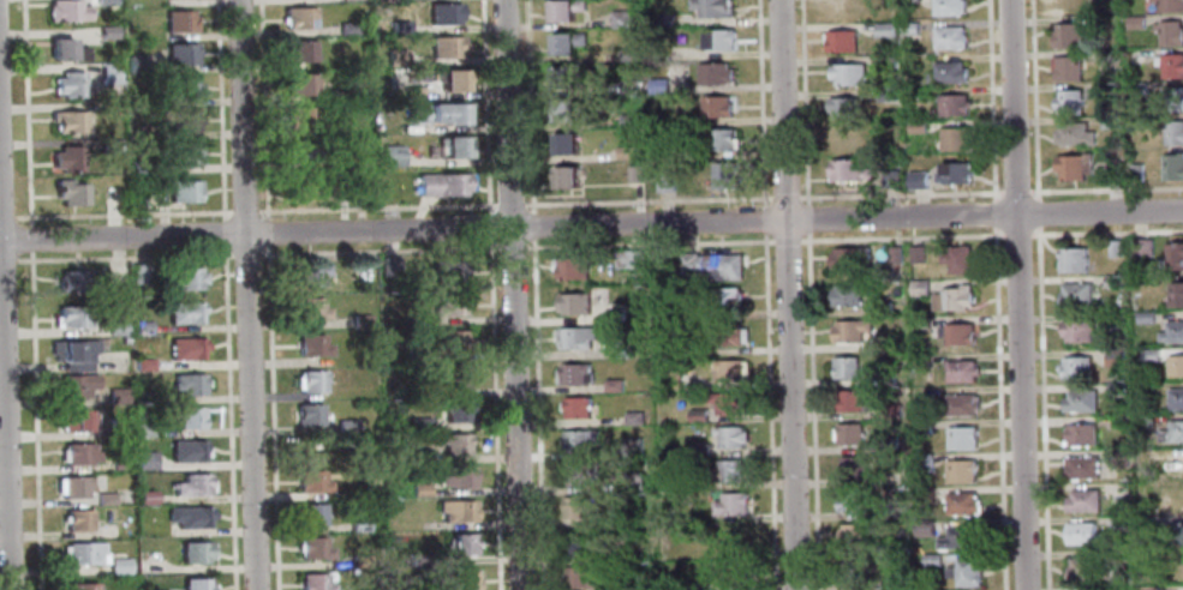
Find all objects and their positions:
building: (906, 0)
building: (104, 1)
building: (1169, 5)
building: (1067, 6)
building: (710, 7)
building: (948, 7)
building: (65, 10)
building: (562, 10)
building: (444, 12)
building: (298, 17)
building: (619, 18)
building: (664, 19)
building: (179, 20)
building: (1135, 23)
building: (398, 26)
building: (347, 28)
building: (908, 28)
building: (884, 29)
building: (106, 31)
building: (1170, 34)
building: (1067, 36)
building: (949, 37)
building: (718, 40)
building: (840, 40)
building: (564, 42)
building: (446, 46)
building: (64, 49)
building: (299, 50)
building: (180, 54)
building: (628, 54)
building: (1104, 55)
building: (396, 56)
building: (884, 61)
building: (136, 64)
building: (1172, 66)
building: (1067, 68)
building: (946, 72)
building: (108, 73)
building: (713, 73)
building: (847, 73)
building: (563, 76)
building: (450, 78)
building: (300, 83)
building: (68, 84)
building: (657, 84)
building: (183, 86)
building: (628, 86)
building: (1110, 88)
building: (1136, 88)
building: (413, 92)
building: (885, 95)
building: (913, 95)
road: (1033, 98)
building: (1172, 98)
road: (990, 100)
road: (758, 102)
road: (802, 102)
building: (1068, 102)
building: (951, 104)
road: (484, 106)
building: (716, 106)
road: (527, 107)
building: (842, 107)
building: (108, 109)
building: (563, 109)
road: (219, 110)
road: (263, 110)
building: (436, 112)
road: (25, 113)
building: (300, 118)
building: (180, 120)
building: (627, 120)
building: (67, 121)
building: (1137, 121)
building: (1109, 122)
building: (916, 127)
building: (1172, 132)
building: (1073, 133)
building: (718, 139)
building: (844, 139)
building: (954, 139)
building: (564, 143)
building: (109, 144)
building: (453, 145)
building: (300, 150)
building: (625, 152)
building: (691, 152)
building: (183, 153)
building: (393, 155)
building: (65, 158)
building: (349, 161)
building: (138, 165)
building: (1073, 165)
building: (1172, 167)
building: (847, 170)
building: (1111, 173)
building: (1135, 173)
building: (633, 174)
building: (952, 174)
building: (723, 175)
building: (564, 176)
building: (889, 179)
building: (916, 179)
building: (663, 181)
building: (442, 183)
building: (301, 186)
building: (183, 189)
road: (1105, 189)
building: (68, 192)
road: (1012, 192)
road: (898, 195)
building: (136, 198)
road: (783, 199)
road: (646, 201)
road: (509, 204)
road: (376, 207)
road: (244, 211)
road: (1035, 212)
road: (124, 213)
road: (992, 213)
road: (7, 217)
road: (761, 218)
road: (805, 219)
road: (591, 225)
road: (488, 227)
road: (531, 227)
road: (1105, 233)
road: (267, 234)
road: (223, 235)
road: (1014, 235)
road: (29, 239)
road: (898, 239)
road: (784, 241)
road: (647, 243)
road: (510, 247)
building: (1140, 247)
building: (1115, 248)
road: (378, 251)
road: (245, 254)
building: (916, 254)
building: (894, 255)
road: (123, 257)
building: (848, 257)
building: (1173, 257)
building: (628, 258)
road: (6, 259)
building: (957, 260)
building: (1071, 260)
building: (710, 265)
building: (388, 266)
building: (570, 267)
building: (446, 272)
building: (138, 273)
building: (310, 273)
building: (185, 277)
building: (1111, 279)
building: (71, 281)
building: (919, 287)
road: (513, 294)
road: (787, 294)
building: (846, 294)
road: (1017, 294)
building: (1074, 294)
building: (1175, 294)
road: (245, 295)
building: (724, 297)
building: (951, 299)
building: (573, 302)
building: (448, 305)
building: (883, 307)
building: (310, 309)
building: (183, 312)
building: (613, 314)
building: (72, 317)
building: (1145, 317)
building: (359, 320)
building: (919, 323)
building: (141, 326)
building: (115, 329)
building: (849, 330)
building: (1077, 331)
building: (1172, 332)
building: (727, 333)
building: (955, 335)
building: (574, 337)
building: (449, 342)
building: (884, 343)
building: (310, 344)
building: (185, 348)
building: (71, 350)
building: (622, 350)
building: (416, 355)
building: (1148, 355)
building: (1113, 357)
building: (920, 361)
building: (142, 363)
building: (73, 365)
building: (1175, 365)
building: (1074, 367)
building: (846, 368)
building: (727, 371)
building: (960, 371)
building: (572, 373)
building: (450, 377)
building: (884, 378)
building: (670, 379)
building: (311, 381)
building: (187, 383)
building: (74, 385)
building: (611, 385)
building: (1115, 389)
building: (426, 391)
building: (115, 396)
building: (1175, 399)
building: (849, 401)
building: (1079, 401)
building: (724, 402)
road: (5, 403)
building: (960, 404)
building: (576, 408)
road: (1040, 408)
building: (454, 409)
road: (997, 409)
road: (766, 411)
road: (811, 411)
building: (890, 411)
road: (494, 414)
road: (537, 414)
building: (306, 415)
building: (697, 415)
building: (186, 416)
road: (270, 417)
road: (228, 419)
building: (633, 419)
road: (34, 420)
building: (70, 421)
building: (1142, 422)
building: (418, 423)
building: (343, 426)
building: (921, 426)
building: (116, 427)
building: (142, 429)
building: (1172, 432)
building: (849, 433)
building: (1080, 434)
building: (728, 437)
building: (961, 438)
building: (578, 440)
building: (453, 442)
building: (888, 444)
building: (634, 447)
building: (184, 450)
building: (699, 450)
building: (78, 452)
building: (417, 456)
building: (1116, 458)
building: (144, 460)
building: (922, 462)
building: (1179, 463)
building: (114, 465)
building: (852, 466)
building: (1080, 466)
building: (725, 471)
building: (958, 471)
building: (580, 472)
building: (455, 477)
building: (310, 481)
building: (632, 481)
building: (191, 484)
building: (73, 486)
building: (417, 490)
building: (924, 495)
building: (144, 496)
building: (104, 498)
building: (1082, 500)
building: (848, 501)
building: (961, 502)
building: (730, 504)
building: (575, 507)
building: (455, 510)
building: (310, 513)
building: (127, 514)
building: (187, 516)
building: (76, 519)
building: (1118, 522)
building: (357, 523)
building: (927, 526)
building: (1177, 531)
building: (1081, 534)
building: (852, 535)
building: (958, 537)
building: (736, 541)
building: (578, 542)
building: (459, 543)
building: (898, 546)
building: (312, 548)
building: (192, 550)
building: (83, 553)
building: (420, 559)
building: (359, 560)
building: (931, 560)
building: (1177, 565)
building: (116, 566)
building: (1085, 568)
building: (853, 570)
building: (963, 572)
building: (729, 576)
building: (579, 578)
building: (460, 579)
building: (312, 582)
building: (898, 582)
building: (193, 584)
building: (691, 585)
building: (80, 586)
building: (1119, 588)
building: (1147, 588)
building: (432, 589)

